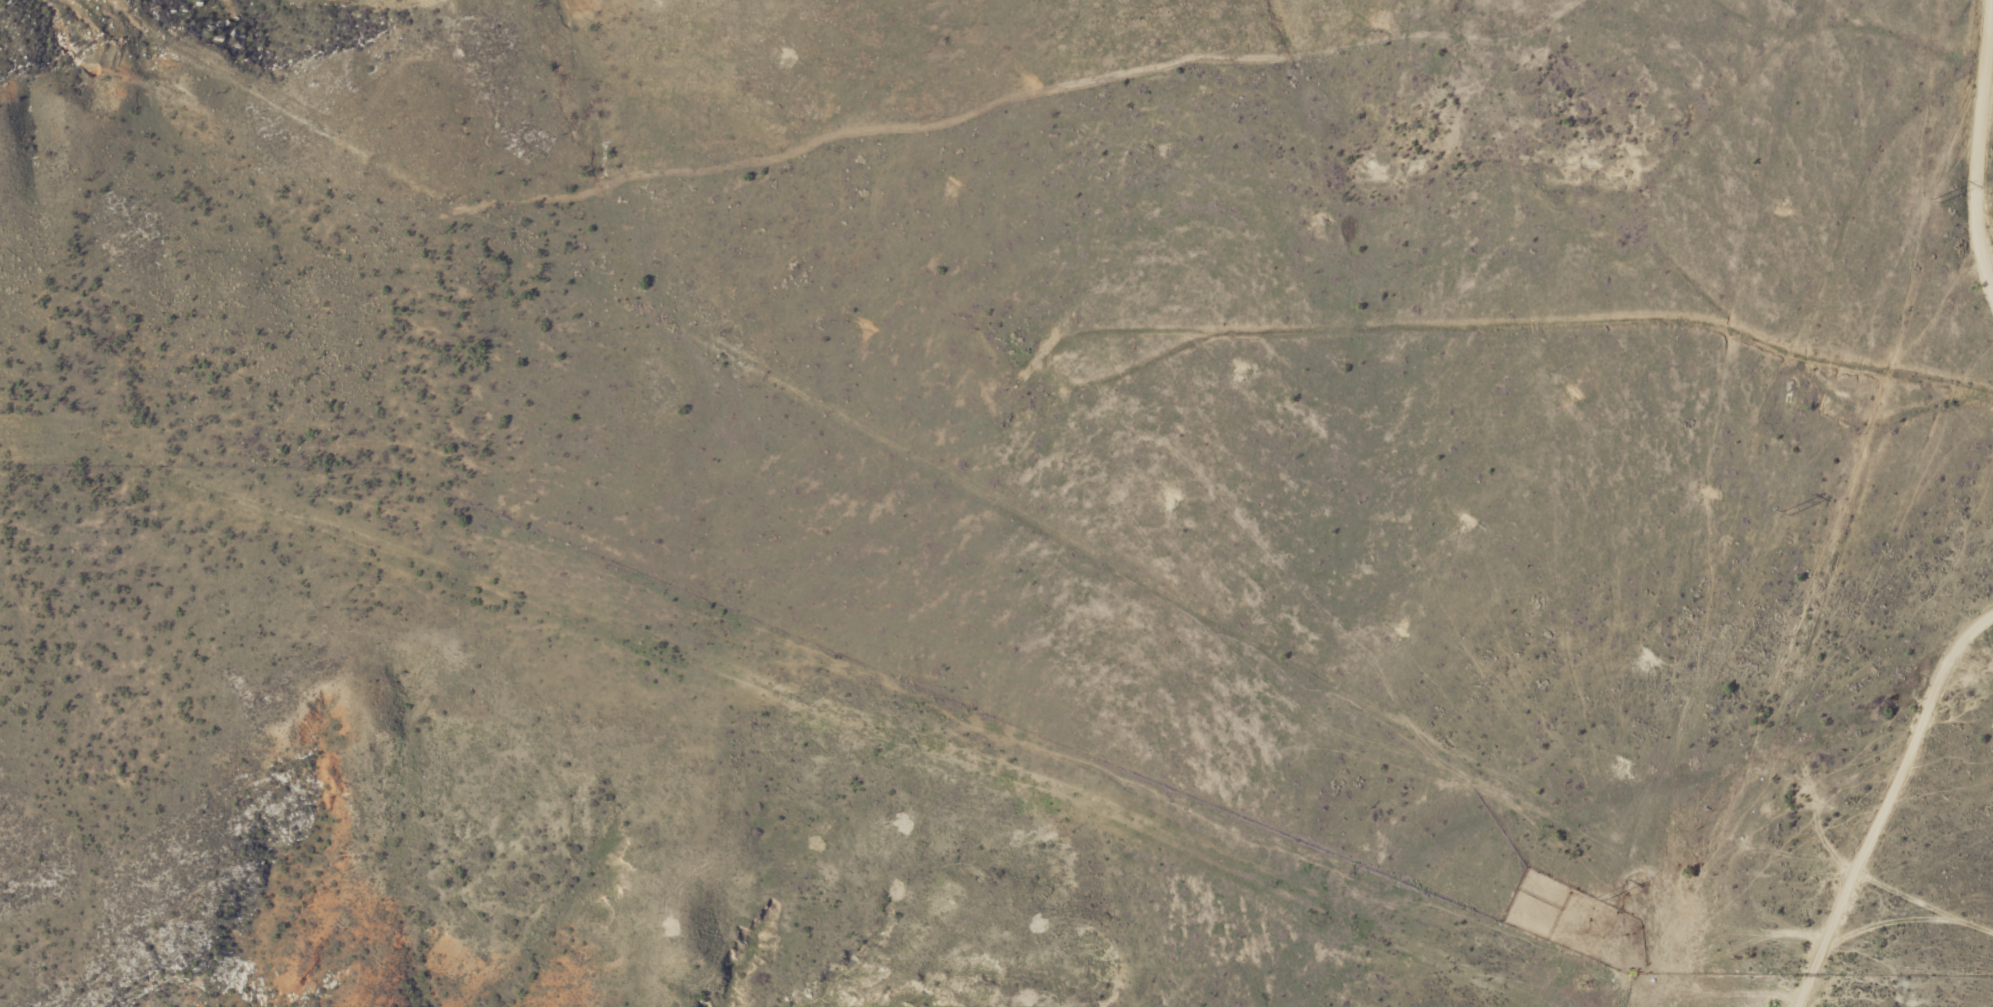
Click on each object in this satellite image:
power tower: (1937, 200)
power tower: (1786, 513)
power tower: (1600, 899)

